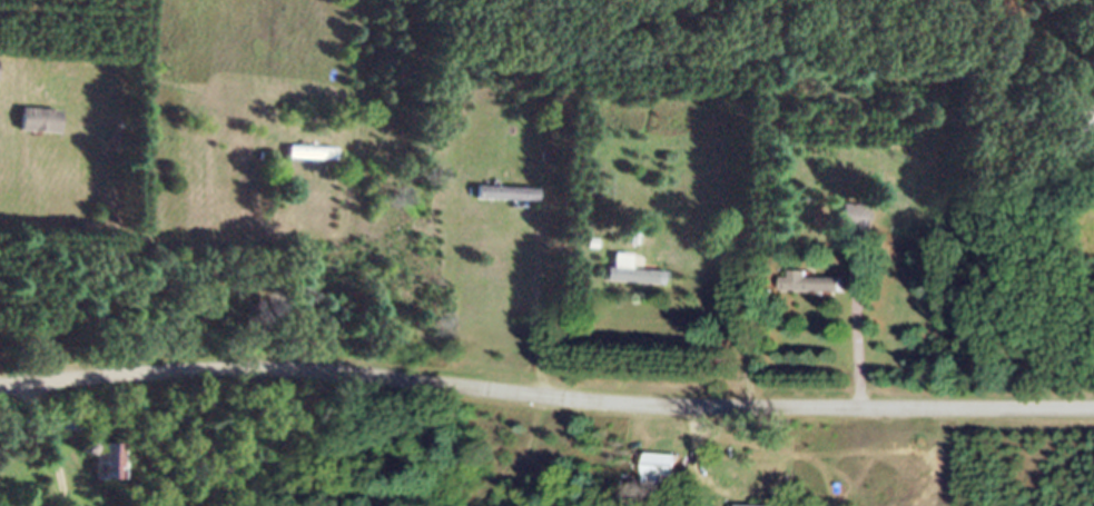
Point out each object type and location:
building: (42, 128)
building: (312, 160)
building: (506, 201)
building: (856, 224)
building: (634, 280)
building: (812, 289)
road: (545, 391)
building: (69, 430)
building: (109, 469)
building: (662, 472)

